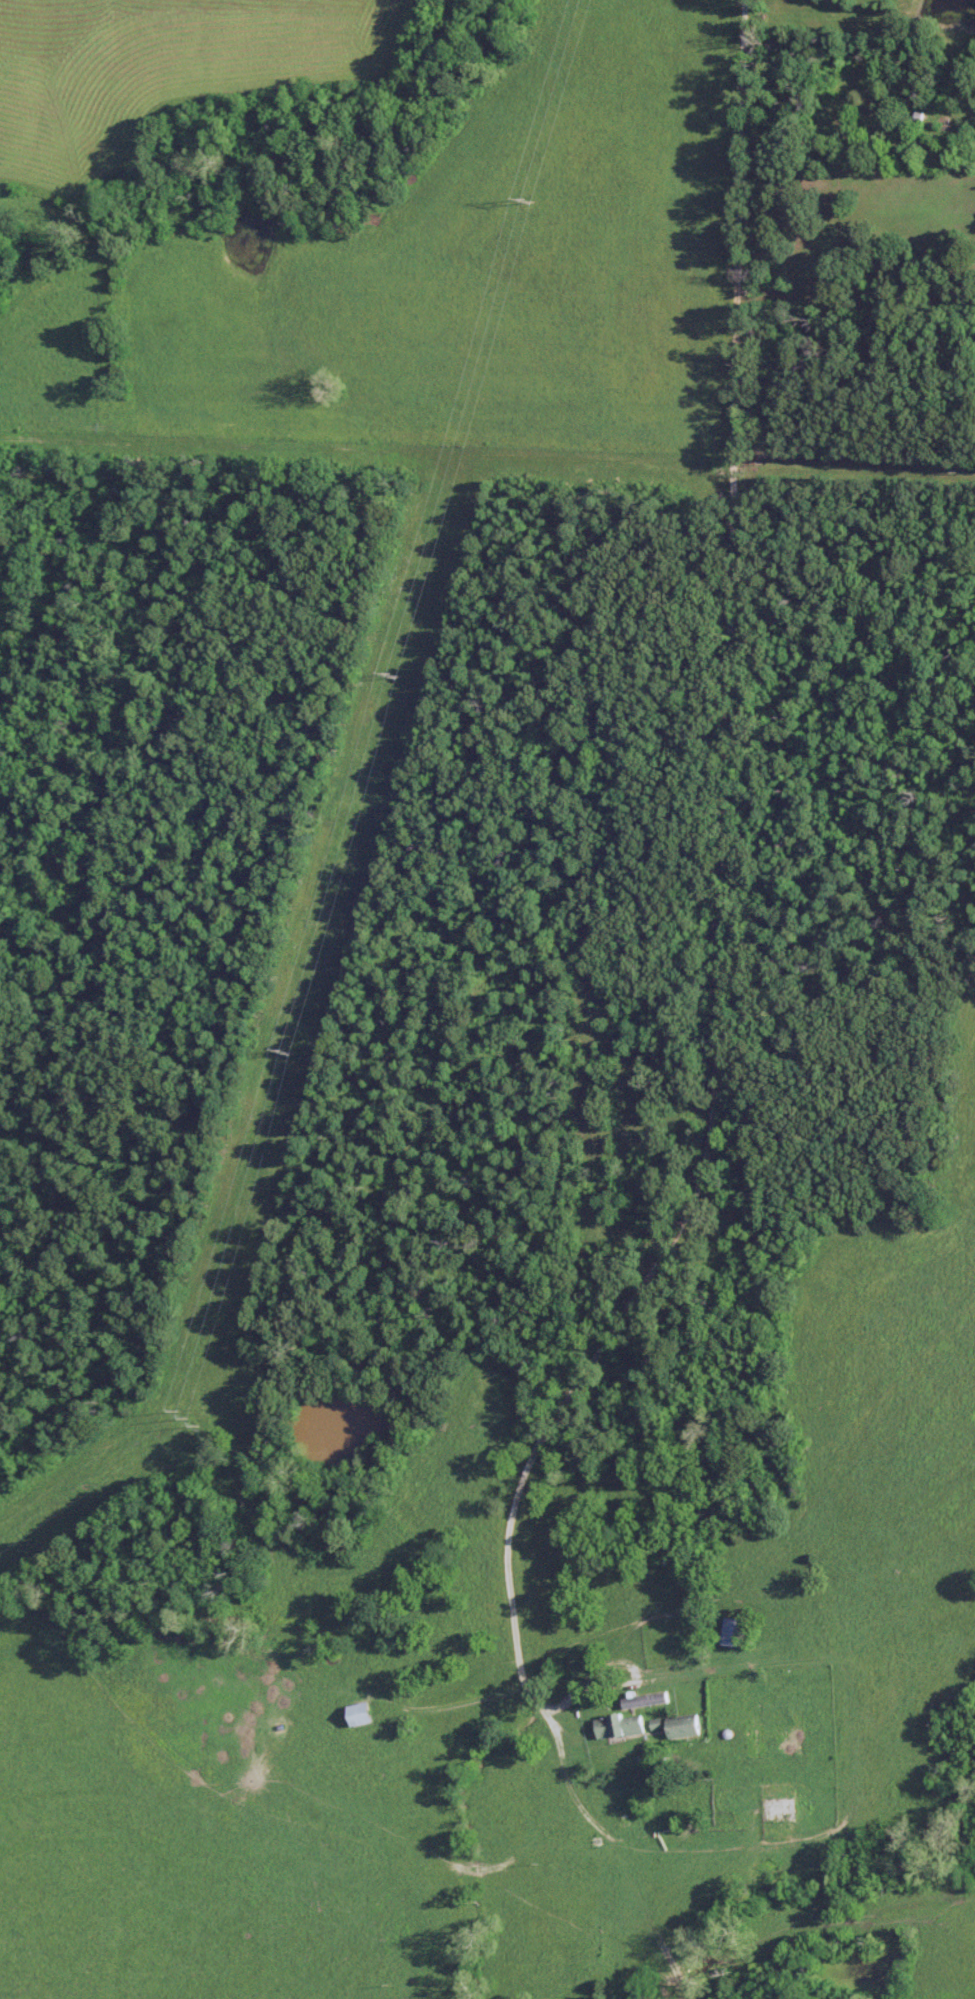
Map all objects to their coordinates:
road: (718, 1029)
building: (736, 1632)
building: (648, 1700)
building: (364, 1718)
building: (623, 1726)
building: (687, 1726)
building: (783, 1811)

